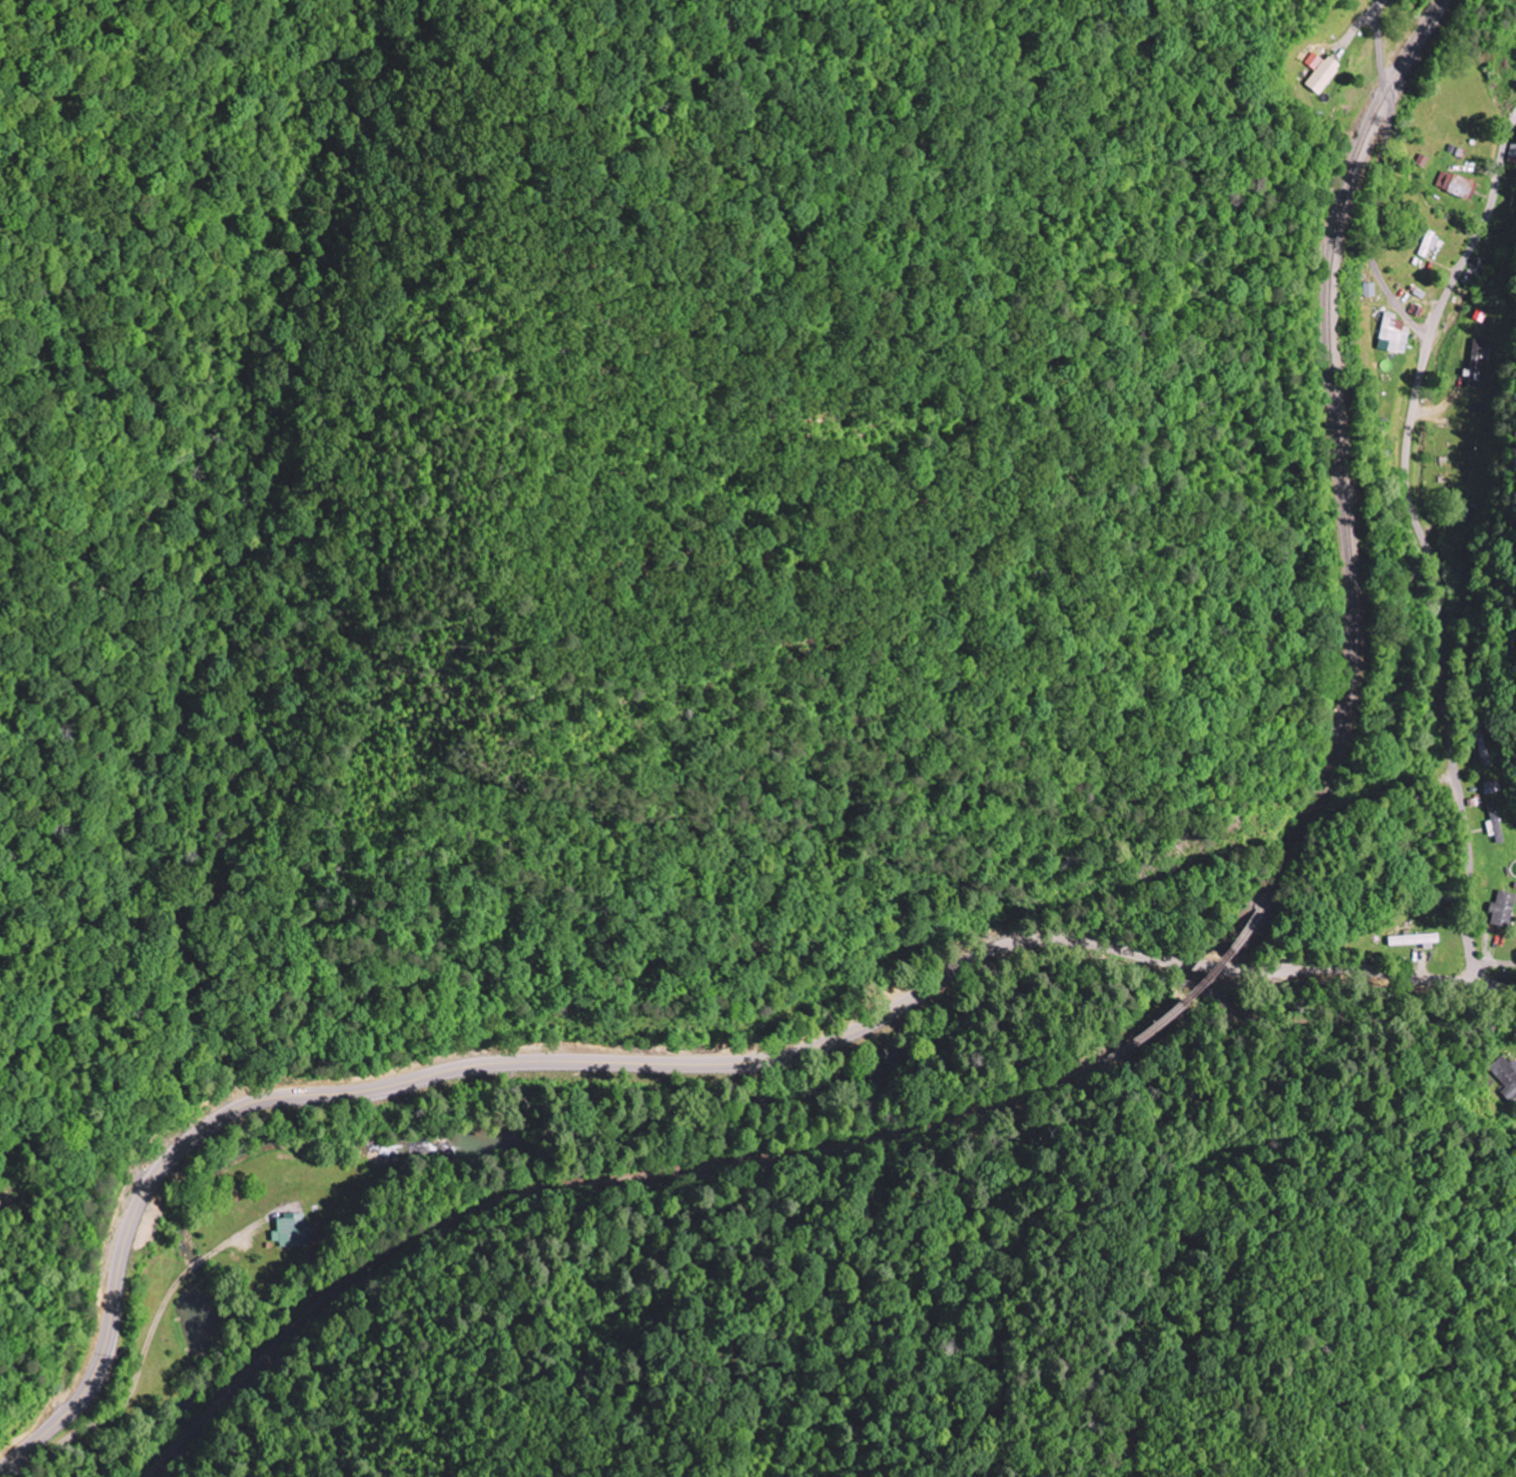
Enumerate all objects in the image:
building: (1324, 75)
building: (1513, 154)
road: (1378, 178)
building: (1456, 185)
building: (1429, 243)
building: (1370, 289)
building: (1394, 334)
building: (1474, 364)
railway: (1335, 455)
road: (1431, 538)
building: (1495, 830)
building: (1503, 908)
building: (1413, 939)
railway: (1171, 1010)
road: (665, 1065)
building: (1510, 1083)
railway: (563, 1200)
building: (290, 1231)

